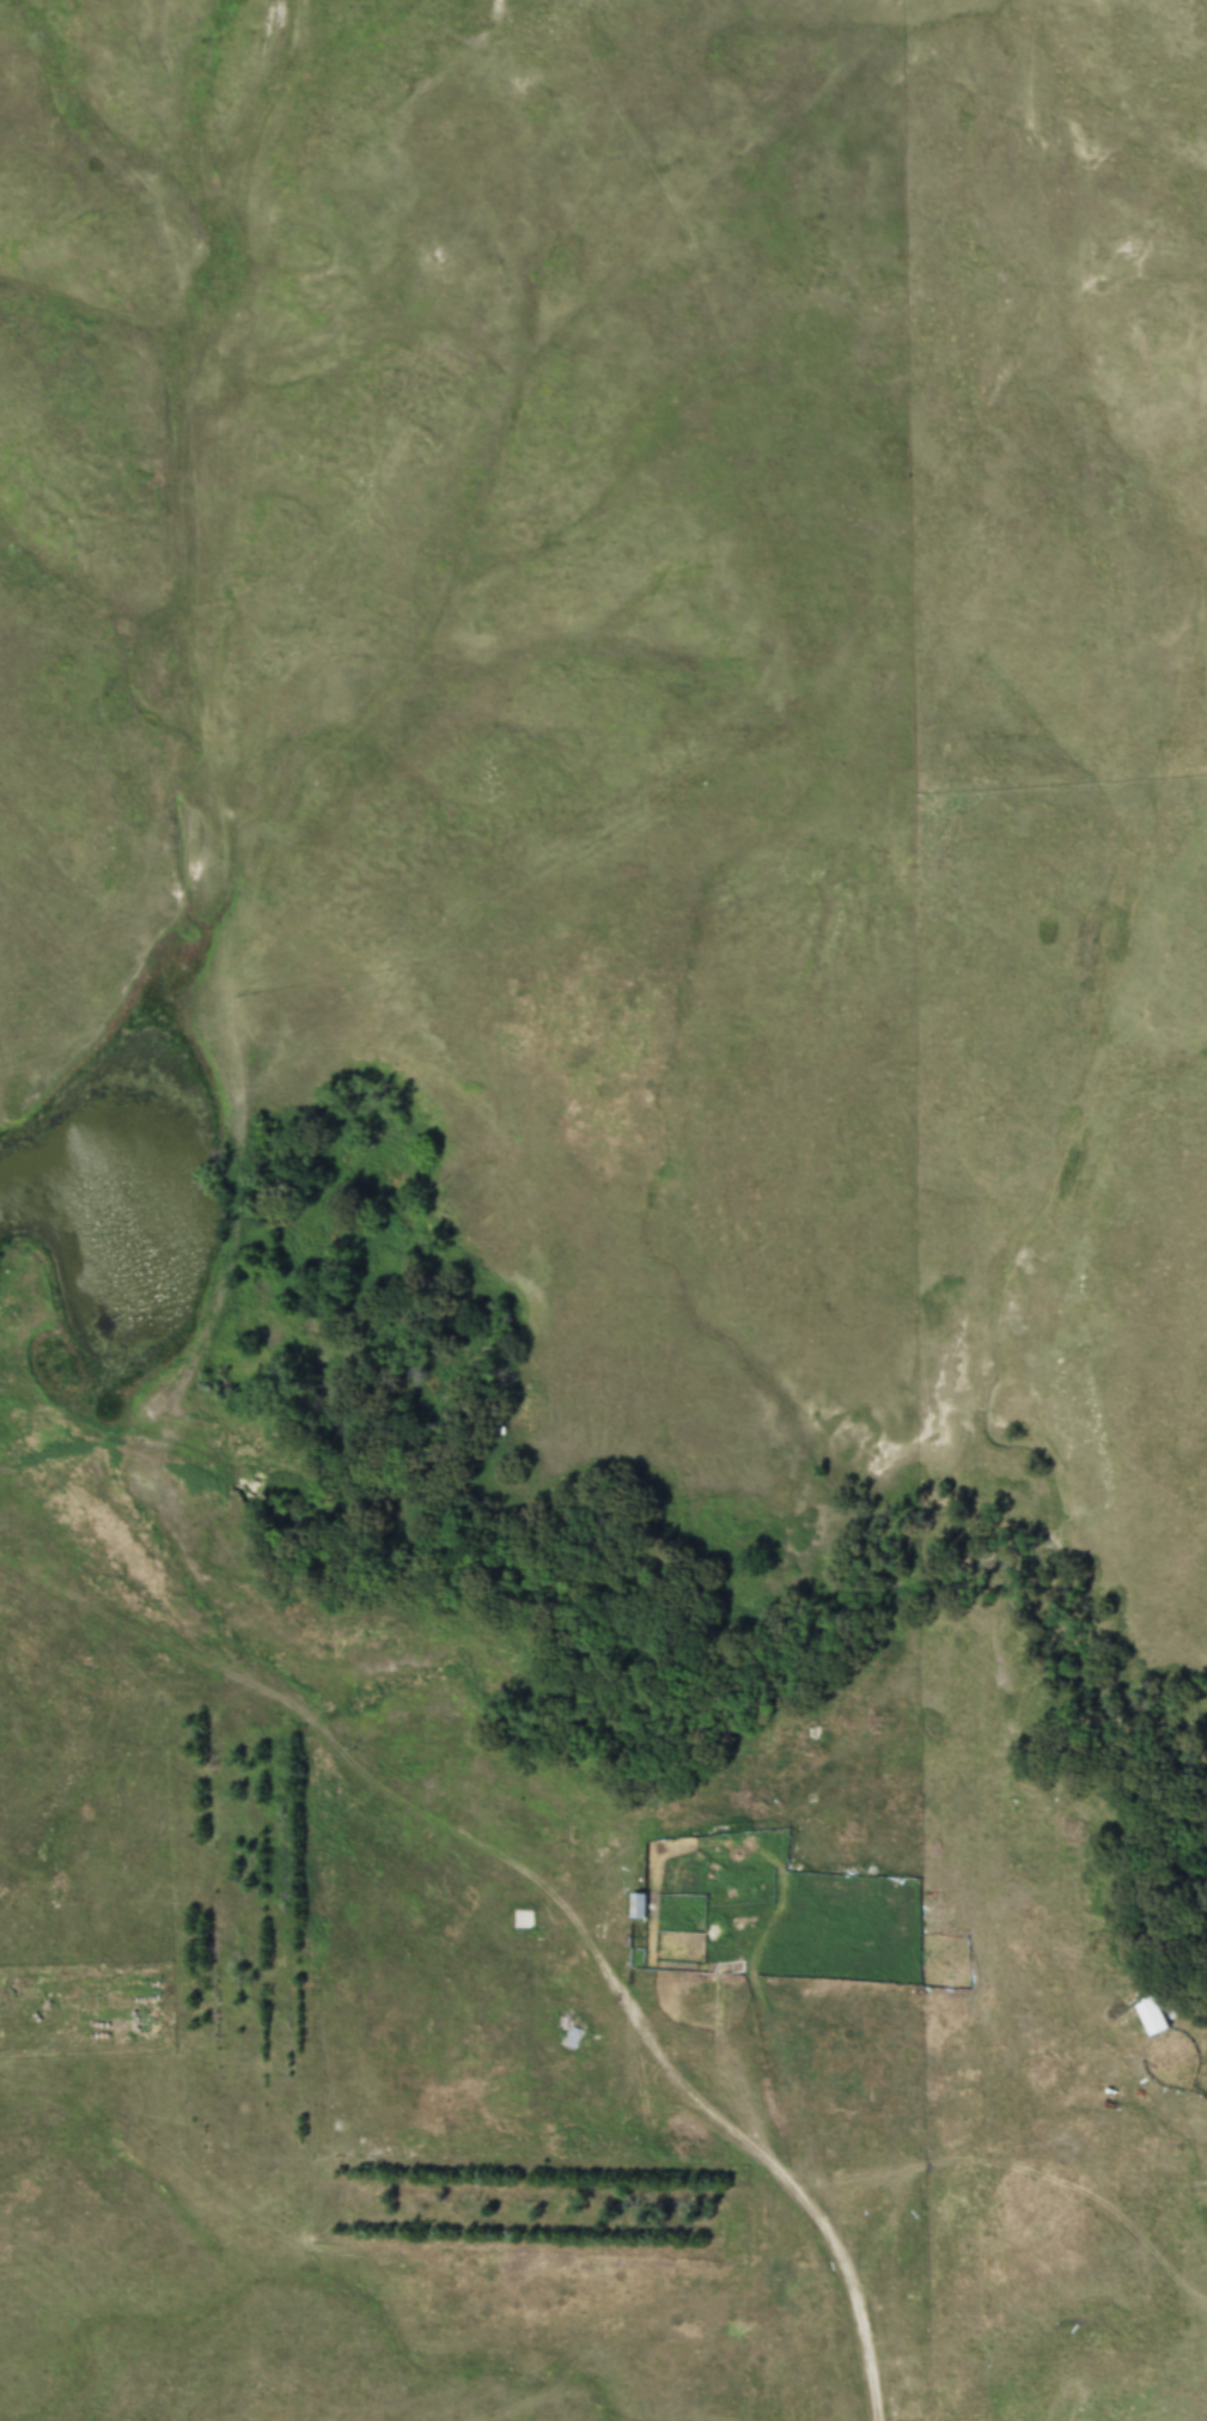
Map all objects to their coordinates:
building: (1159, 2019)
road: (841, 2279)

